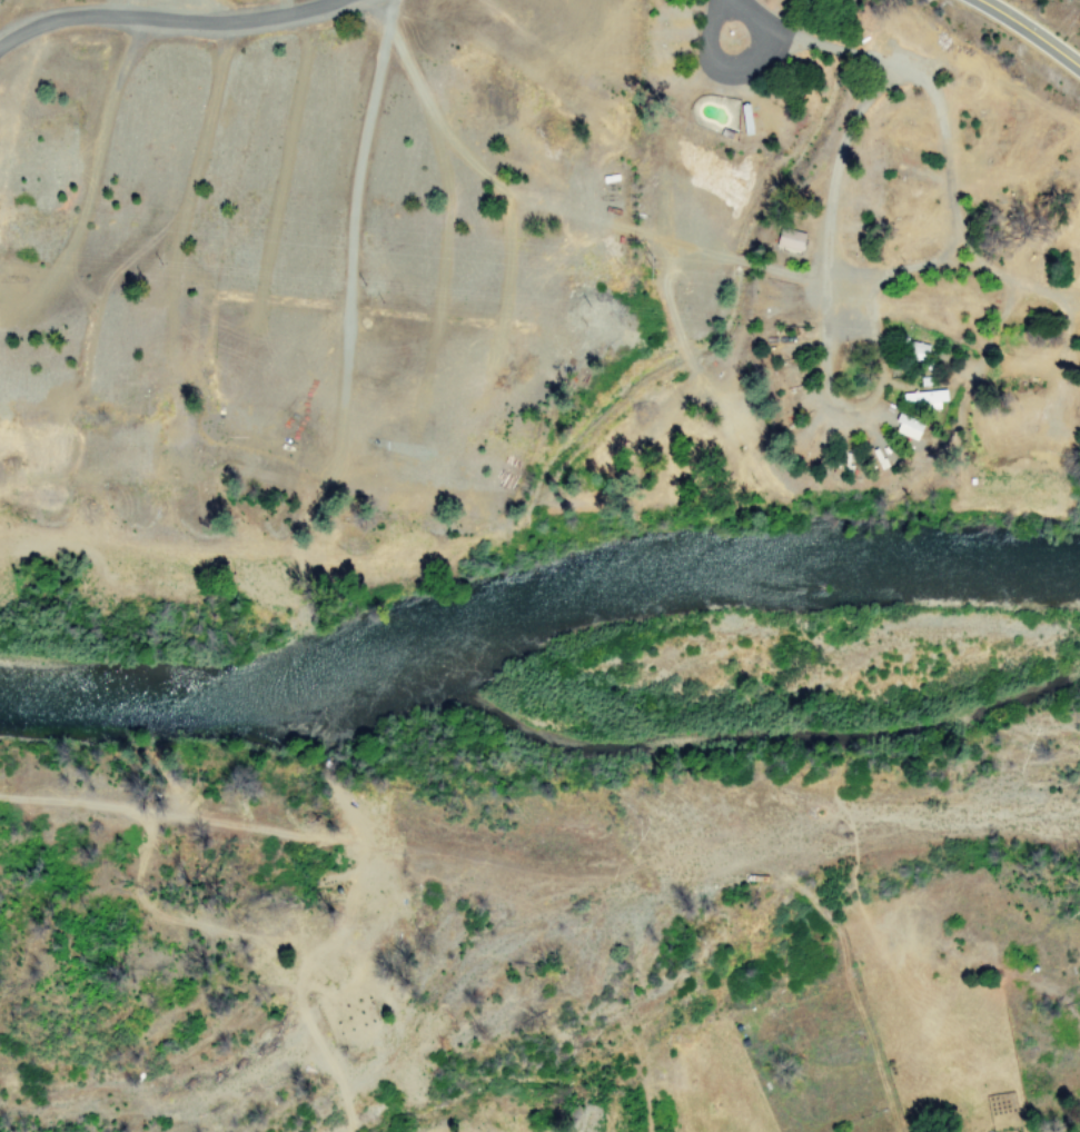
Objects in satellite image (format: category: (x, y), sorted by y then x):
road: (1030, 31)
building: (792, 239)
power tower: (650, 266)
building: (927, 398)
building: (910, 427)
river: (534, 597)

